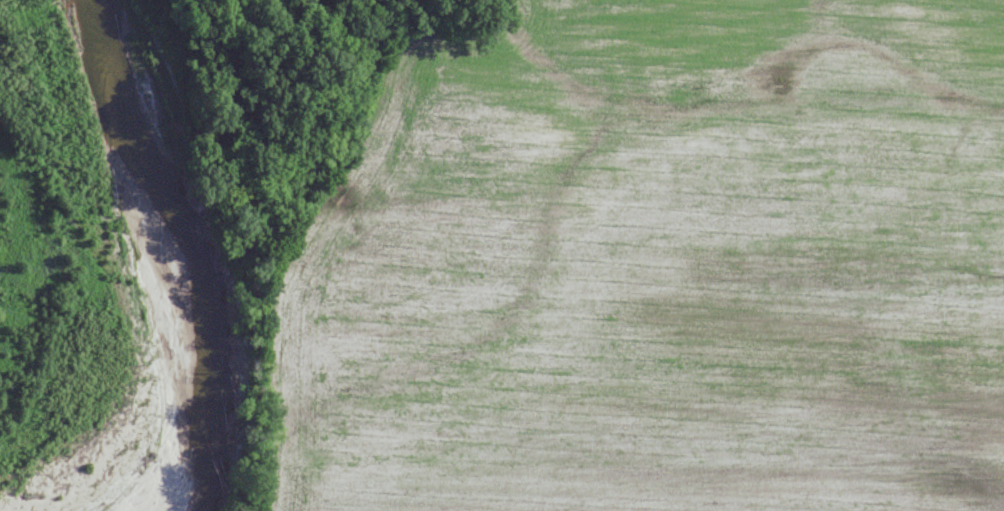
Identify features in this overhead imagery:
river: (114, 249)

